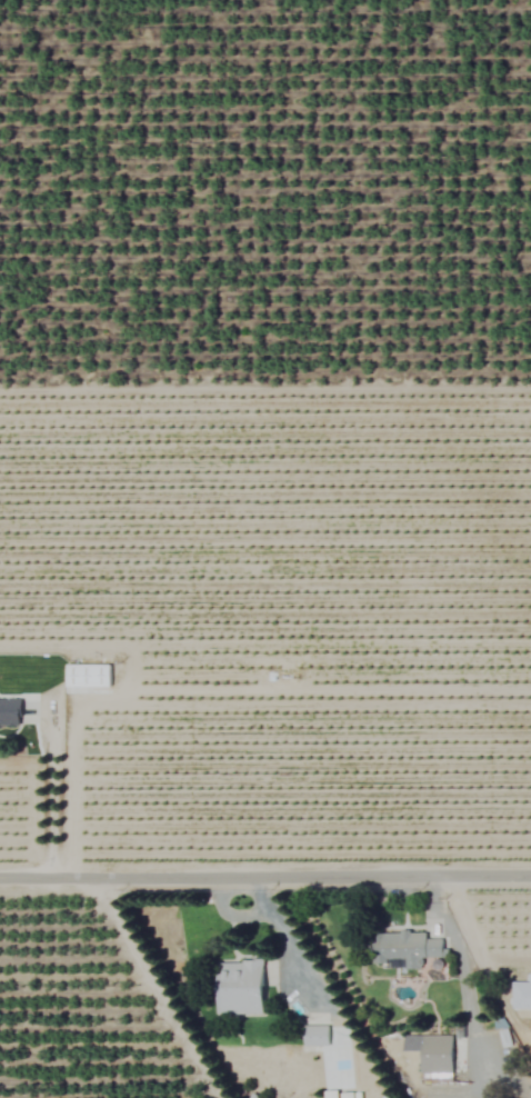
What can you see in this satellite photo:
crop: (265, 549)
building: (87, 677)
building: (9, 713)
road: (49, 790)
road: (264, 874)
road: (458, 957)
building: (239, 988)
building: (314, 1036)
building: (431, 1052)
building: (331, 1095)

